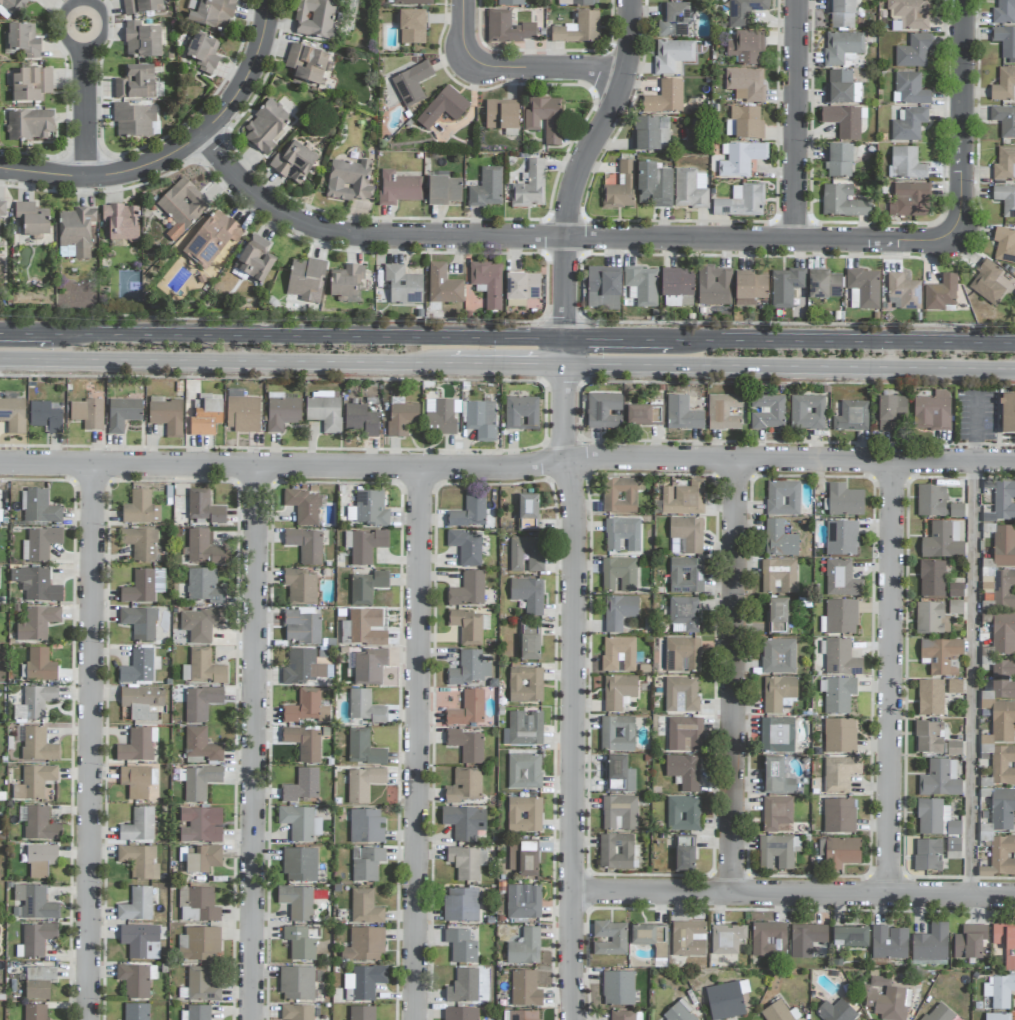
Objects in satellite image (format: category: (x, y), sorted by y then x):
building: (687, 0)
building: (412, 2)
building: (510, 3)
building: (575, 3)
building: (13, 6)
building: (141, 6)
building: (744, 12)
building: (1004, 12)
building: (841, 13)
building: (910, 13)
building: (214, 14)
building: (315, 19)
building: (673, 20)
building: (412, 27)
building: (507, 28)
building: (578, 29)
building: (23, 41)
building: (142, 41)
building: (1005, 43)
building: (746, 48)
building: (842, 48)
building: (203, 52)
building: (913, 52)
building: (673, 56)
building: (305, 64)
road: (516, 69)
building: (135, 83)
building: (30, 84)
building: (412, 84)
building: (745, 84)
building: (1004, 86)
building: (841, 88)
road: (86, 89)
building: (665, 98)
building: (443, 108)
building: (501, 115)
road: (964, 118)
building: (545, 119)
road: (796, 120)
building: (1004, 120)
building: (134, 121)
building: (844, 121)
building: (744, 123)
building: (30, 125)
building: (909, 125)
building: (265, 127)
building: (649, 133)
road: (180, 152)
building: (741, 159)
building: (838, 161)
building: (293, 163)
building: (906, 164)
building: (1004, 164)
road: (582, 165)
building: (349, 181)
building: (653, 186)
building: (530, 187)
building: (398, 188)
building: (487, 188)
building: (620, 188)
building: (443, 189)
building: (690, 189)
building: (910, 200)
building: (1005, 200)
building: (741, 202)
building: (843, 202)
building: (181, 207)
building: (2, 208)
building: (32, 219)
building: (121, 222)
building: (76, 230)
road: (563, 238)
building: (212, 240)
building: (1004, 246)
building: (66, 251)
building: (255, 259)
building: (305, 278)
building: (345, 281)
building: (487, 283)
building: (987, 283)
building: (824, 284)
building: (403, 285)
building: (443, 285)
building: (714, 286)
building: (641, 287)
building: (750, 287)
building: (785, 287)
building: (864, 287)
building: (521, 288)
building: (603, 288)
building: (677, 288)
building: (903, 293)
building: (940, 294)
road: (271, 316)
road: (799, 324)
road: (28, 333)
road: (311, 336)
road: (626, 340)
road: (851, 341)
road: (565, 352)
road: (218, 360)
road: (500, 364)
road: (790, 366)
road: (268, 374)
road: (800, 382)
building: (604, 409)
building: (765, 409)
building: (723, 410)
building: (281, 411)
building: (324, 411)
building: (805, 411)
building: (891, 411)
building: (242, 412)
building: (637, 412)
building: (681, 412)
building: (930, 412)
building: (1008, 412)
building: (521, 413)
building: (850, 413)
building: (87, 414)
building: (123, 414)
building: (13, 415)
building: (166, 416)
building: (439, 416)
parking lot: (974, 416)
building: (45, 417)
building: (401, 419)
building: (481, 420)
building: (361, 421)
road: (974, 428)
road: (508, 468)
building: (618, 494)
building: (782, 495)
building: (844, 497)
building: (684, 498)
building: (930, 498)
building: (1004, 500)
building: (304, 506)
building: (40, 507)
building: (203, 507)
building: (140, 509)
building: (371, 509)
building: (0, 510)
building: (469, 511)
building: (956, 511)
building: (527, 513)
building: (620, 533)
building: (685, 536)
building: (777, 537)
building: (841, 537)
building: (942, 541)
building: (40, 544)
building: (141, 544)
building: (306, 545)
building: (364, 545)
building: (1004, 546)
building: (466, 547)
building: (202, 549)
building: (535, 563)
building: (620, 573)
building: (777, 574)
building: (686, 576)
building: (839, 577)
building: (931, 579)
building: (36, 585)
building: (143, 586)
building: (204, 586)
building: (300, 586)
building: (366, 587)
building: (1004, 589)
building: (468, 590)
building: (955, 590)
building: (528, 595)
building: (955, 607)
building: (618, 610)
building: (775, 614)
building: (840, 614)
building: (683, 615)
building: (931, 618)
building: (37, 623)
building: (140, 623)
building: (200, 624)
building: (469, 626)
building: (301, 627)
building: (366, 627)
building: (1003, 634)
building: (529, 642)
building: (618, 654)
building: (682, 654)
building: (777, 654)
building: (839, 656)
building: (942, 656)
building: (40, 665)
building: (367, 666)
building: (137, 667)
building: (303, 667)
building: (203, 668)
building: (468, 669)
road: (735, 676)
road: (892, 678)
road: (975, 679)
building: (1003, 679)
building: (525, 685)
building: (954, 687)
road: (575, 691)
building: (618, 691)
building: (777, 692)
building: (838, 693)
building: (681, 694)
building: (930, 698)
building: (37, 701)
building: (141, 702)
building: (200, 703)
building: (365, 707)
building: (305, 708)
building: (467, 709)
building: (523, 729)
building: (778, 733)
building: (617, 734)
building: (684, 734)
building: (838, 734)
building: (929, 737)
road: (92, 742)
road: (255, 743)
building: (303, 743)
road: (418, 744)
building: (38, 745)
building: (137, 745)
building: (466, 746)
building: (200, 747)
building: (363, 749)
building: (523, 770)
building: (683, 771)
building: (835, 773)
building: (775, 774)
building: (619, 775)
building: (939, 779)
building: (137, 781)
building: (34, 782)
building: (199, 782)
building: (363, 783)
building: (301, 786)
building: (464, 786)
building: (1002, 809)
building: (775, 810)
building: (619, 813)
building: (837, 813)
building: (524, 814)
building: (683, 814)
building: (935, 819)
building: (464, 822)
building: (300, 823)
building: (40, 824)
building: (200, 825)
building: (138, 826)
building: (366, 826)
building: (953, 848)
building: (617, 851)
building: (775, 851)
building: (839, 852)
building: (997, 853)
building: (683, 855)
building: (927, 855)
building: (523, 858)
building: (41, 860)
building: (202, 860)
building: (139, 861)
building: (467, 862)
building: (366, 864)
building: (298, 865)
road: (794, 894)
building: (297, 902)
building: (523, 902)
building: (33, 903)
building: (137, 905)
building: (197, 905)
building: (461, 905)
building: (365, 908)
building: (647, 935)
building: (849, 937)
building: (610, 938)
building: (688, 939)
building: (726, 939)
building: (806, 939)
building: (34, 940)
building: (768, 940)
building: (141, 941)
building: (889, 942)
building: (969, 942)
building: (299, 943)
building: (199, 944)
building: (364, 944)
building: (930, 944)
building: (1003, 945)
building: (461, 946)
building: (525, 948)
building: (136, 980)
building: (38, 982)
building: (364, 982)
building: (296, 983)
building: (201, 986)
building: (463, 986)
building: (618, 988)
building: (525, 989)
building: (999, 990)
building: (885, 999)
building: (726, 1000)
building: (835, 1011)
building: (35, 1012)
building: (679, 1012)
building: (779, 1012)
building: (362, 1013)
building: (461, 1013)
building: (939, 1013)
building: (521, 1015)
building: (625, 1015)
building: (997, 1016)

